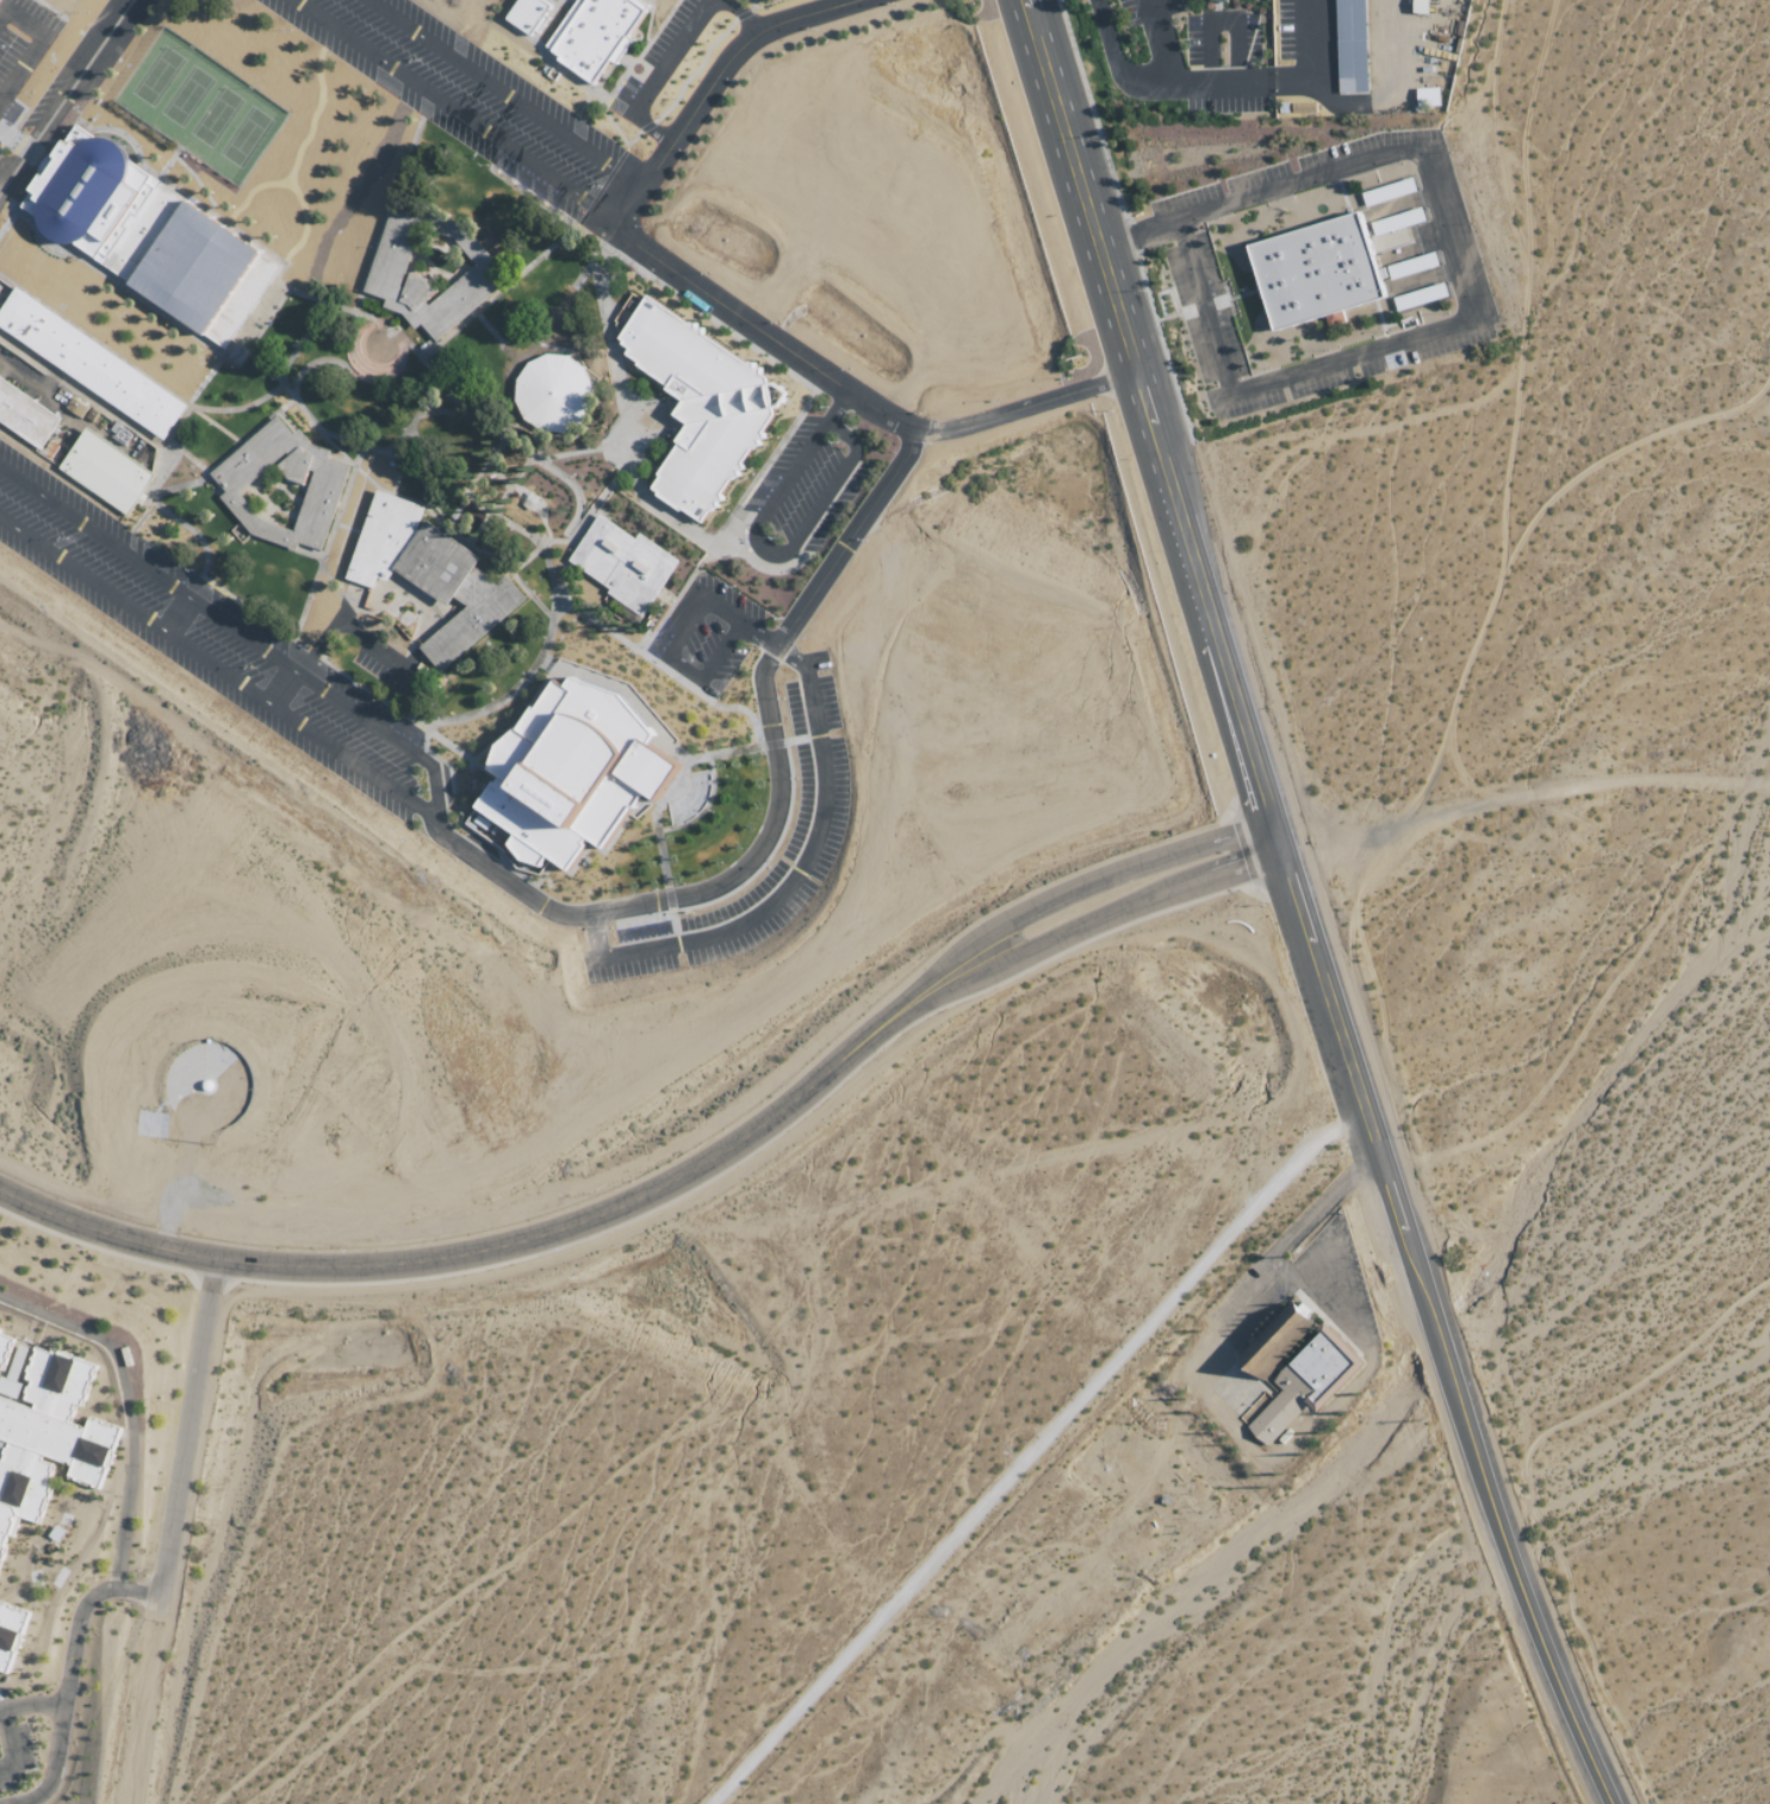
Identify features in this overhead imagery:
building: (1217, 0)
road: (751, 5)
building: (1420, 6)
building: (526, 14)
road: (740, 16)
road: (1222, 20)
building: (594, 35)
road: (1154, 38)
road: (37, 43)
building: (1348, 45)
parking lot: (20, 47)
road: (672, 51)
road: (639, 54)
parking lot: (658, 58)
road: (694, 72)
road: (1212, 75)
park: (157, 76)
road: (62, 88)
road: (501, 91)
parking lot: (461, 93)
building: (1427, 97)
park: (186, 98)
parking lot: (50, 109)
road: (452, 109)
road: (312, 117)
park: (216, 118)
road: (645, 126)
road: (614, 128)
park: (244, 137)
road: (632, 140)
road: (167, 161)
road: (35, 172)
road: (194, 182)
road: (1079, 185)
road: (170, 186)
road: (600, 186)
road: (249, 192)
building: (86, 193)
road: (302, 223)
road: (575, 225)
road: (620, 235)
building: (190, 265)
building: (383, 268)
building: (1313, 272)
road: (1468, 279)
road: (653, 280)
road: (496, 292)
road: (321, 299)
road: (383, 320)
road: (298, 339)
road: (120, 359)
road: (313, 362)
building: (88, 364)
road: (607, 364)
road: (422, 365)
road: (197, 392)
building: (551, 392)
road: (82, 396)
road: (1019, 399)
building: (695, 402)
road: (836, 407)
road: (237, 408)
building: (24, 416)
road: (1145, 416)
road: (487, 417)
road: (319, 429)
road: (24, 452)
road: (187, 453)
road: (410, 455)
road: (548, 455)
road: (846, 459)
building: (104, 469)
road: (478, 473)
building: (324, 483)
road: (178, 485)
parking lot: (809, 485)
road: (142, 490)
road: (571, 494)
road: (590, 510)
road: (727, 522)
road: (194, 529)
road: (844, 534)
road: (704, 535)
building: (380, 539)
road: (539, 546)
road: (321, 553)
building: (433, 563)
building: (621, 564)
road: (527, 595)
road: (693, 597)
road: (181, 613)
building: (470, 616)
road: (234, 625)
road: (547, 626)
parking lot: (706, 633)
parking lot: (207, 637)
road: (1215, 645)
road: (215, 662)
road: (707, 671)
road: (285, 686)
road: (689, 688)
road: (504, 724)
building: (566, 774)
road: (654, 819)
parking lot: (815, 829)
road: (1226, 842)
road: (799, 863)
road: (684, 892)
road: (1336, 1031)
road: (626, 1184)
road: (1261, 1266)
building: (1293, 1364)
road: (125, 1407)
building: (43, 1431)
road: (1030, 1450)
road: (1499, 1521)
road: (162, 1575)
building: (8, 1638)
road: (32, 1703)

